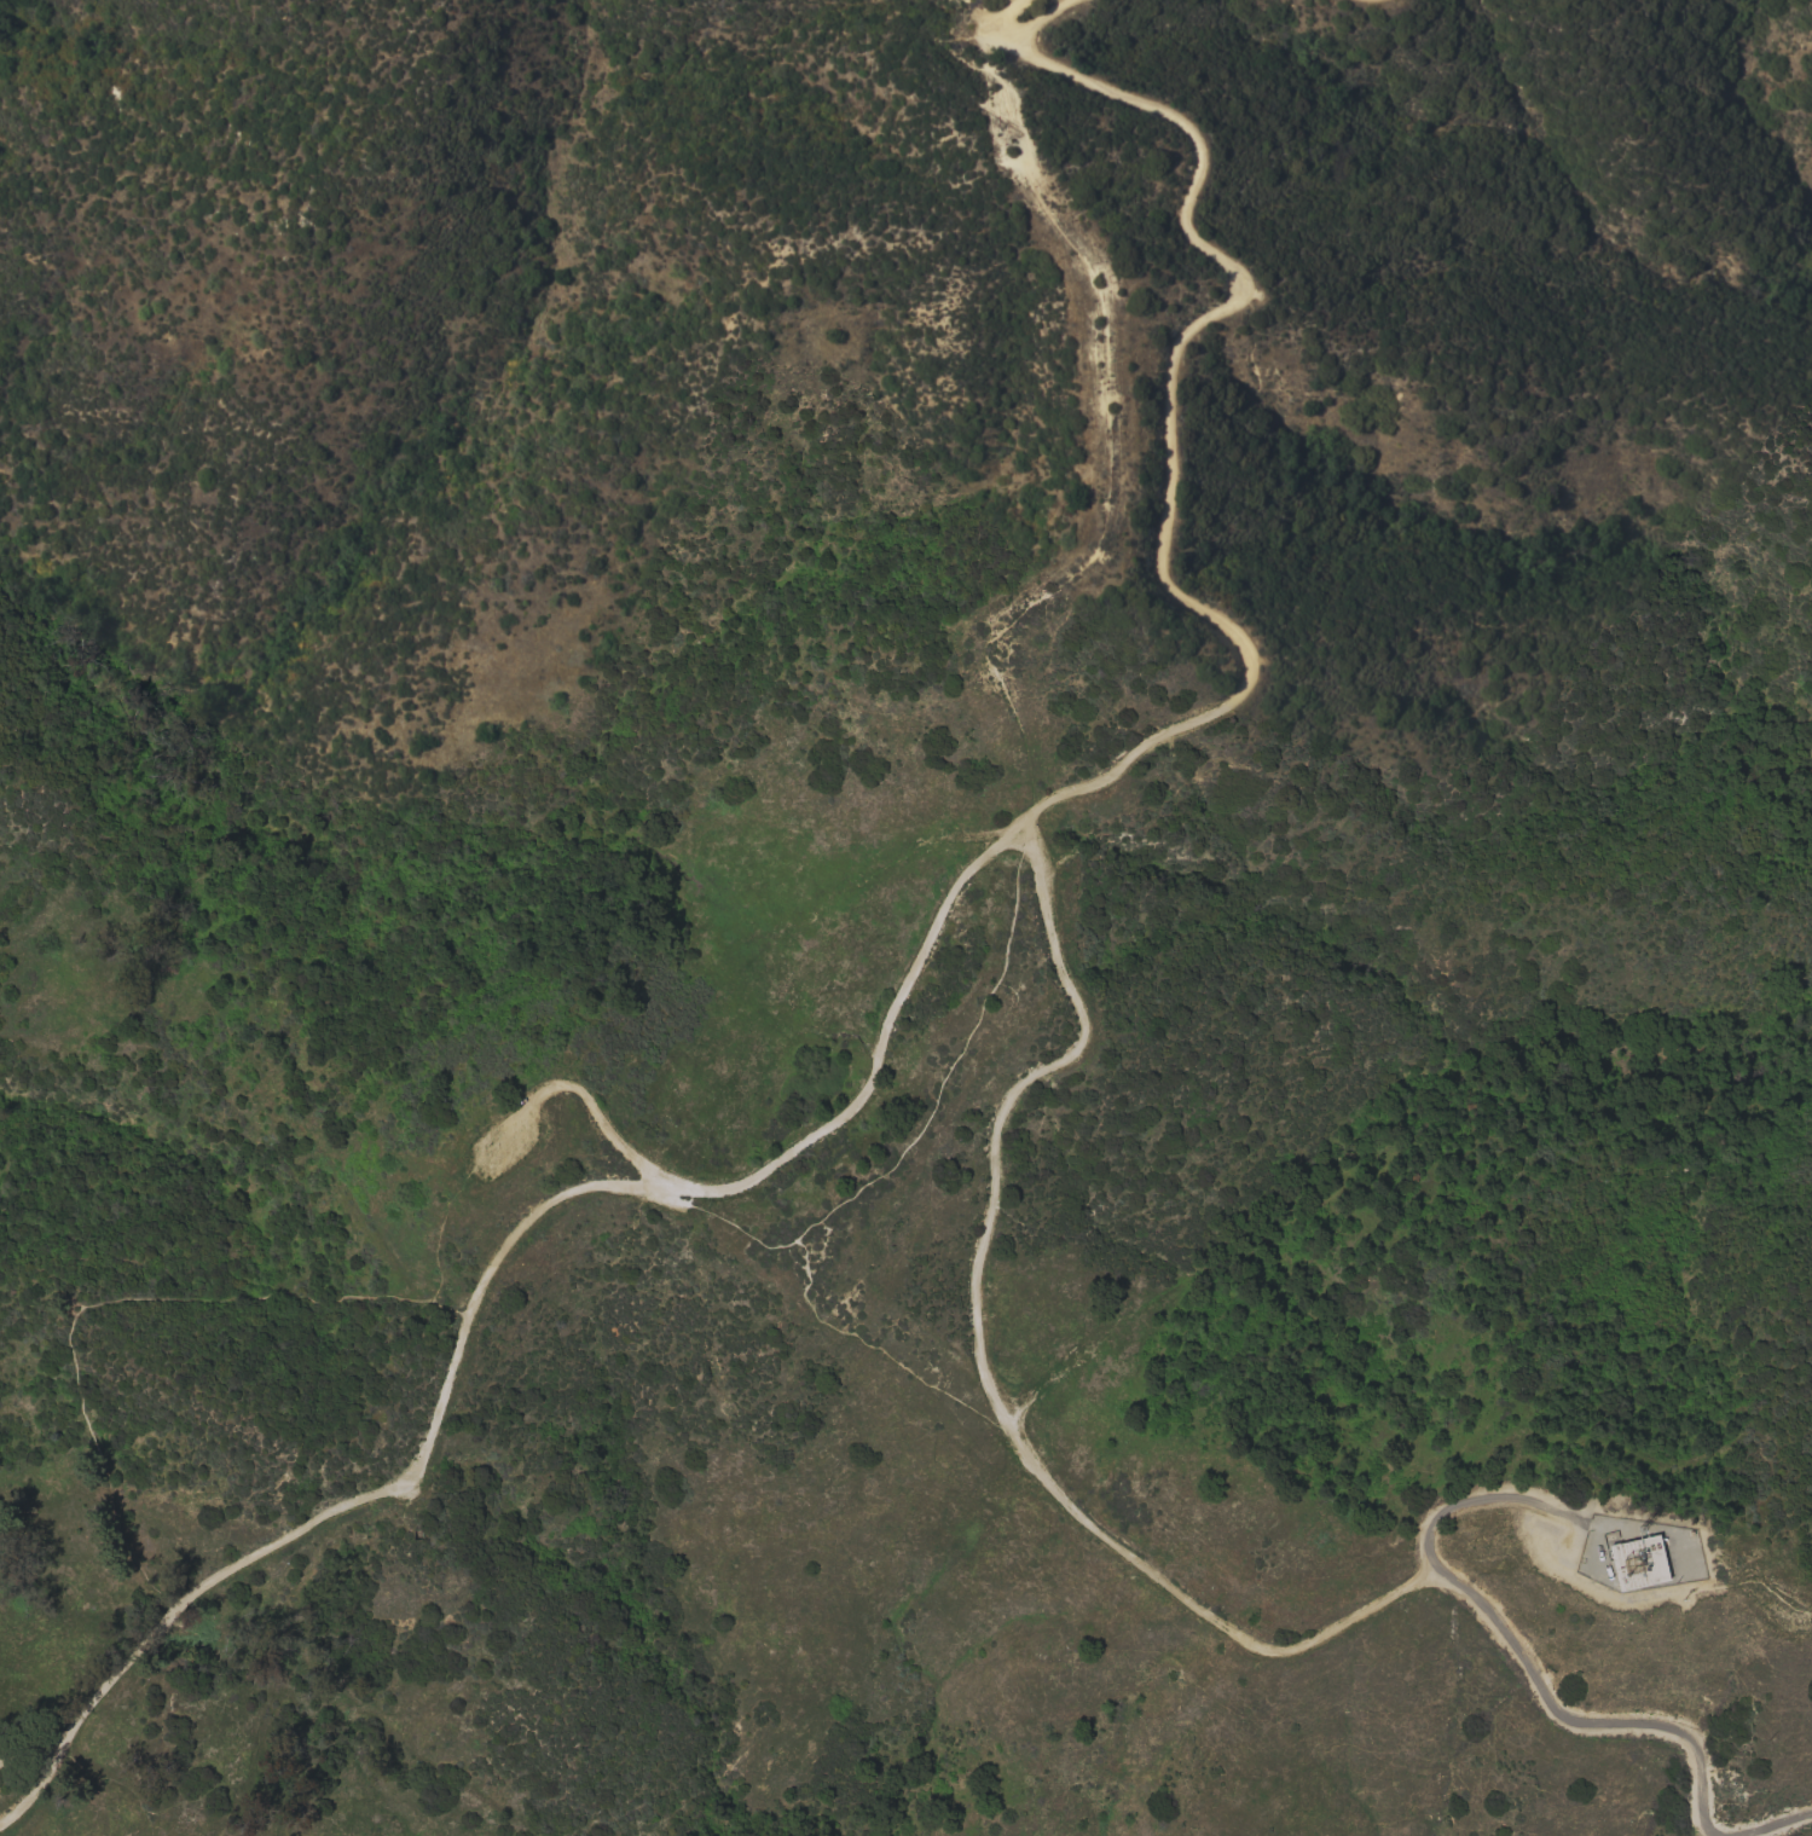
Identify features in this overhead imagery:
road: (1038, 23)
road: (916, 960)
road: (867, 1185)
road: (723, 1221)
road: (115, 1299)
road: (1474, 1496)
road: (1106, 1540)
building: (1637, 1562)
road: (36, 1750)
road: (1796, 1829)

